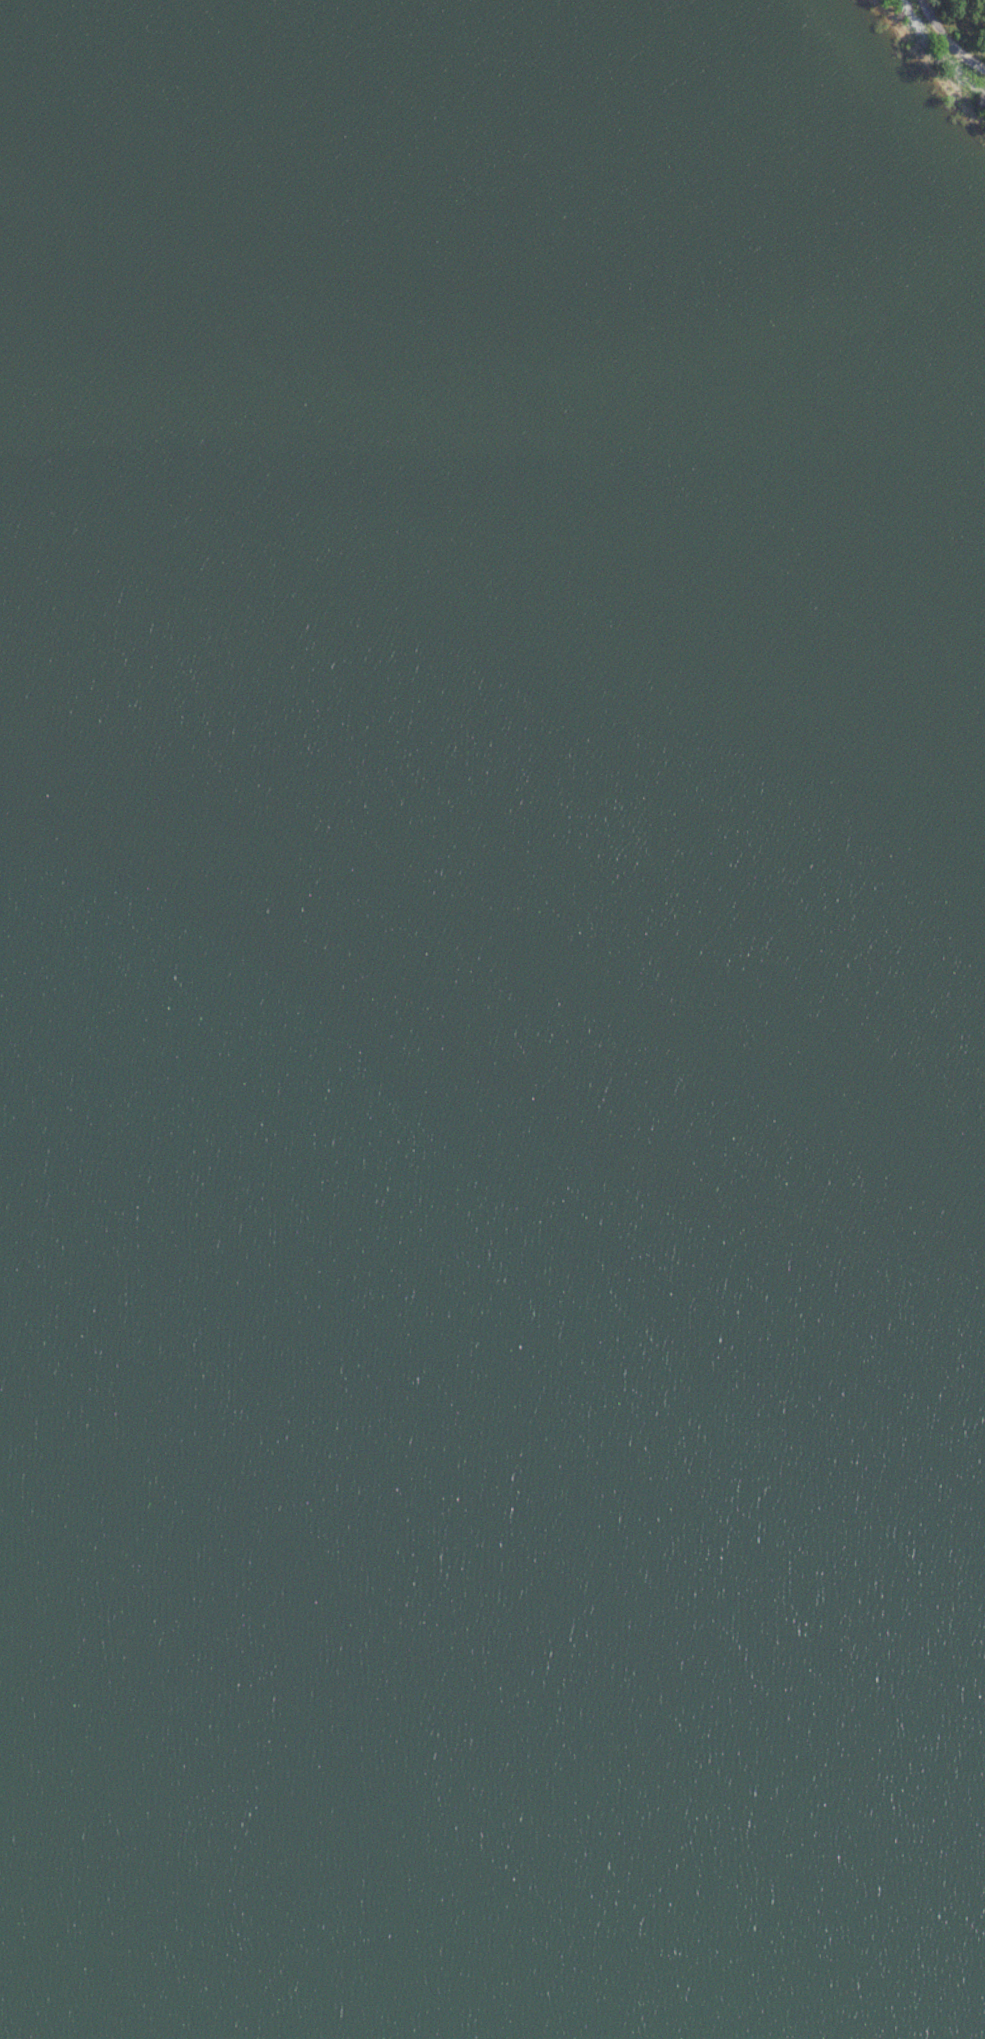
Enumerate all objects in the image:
road: (943, 43)
river: (492, 1531)

